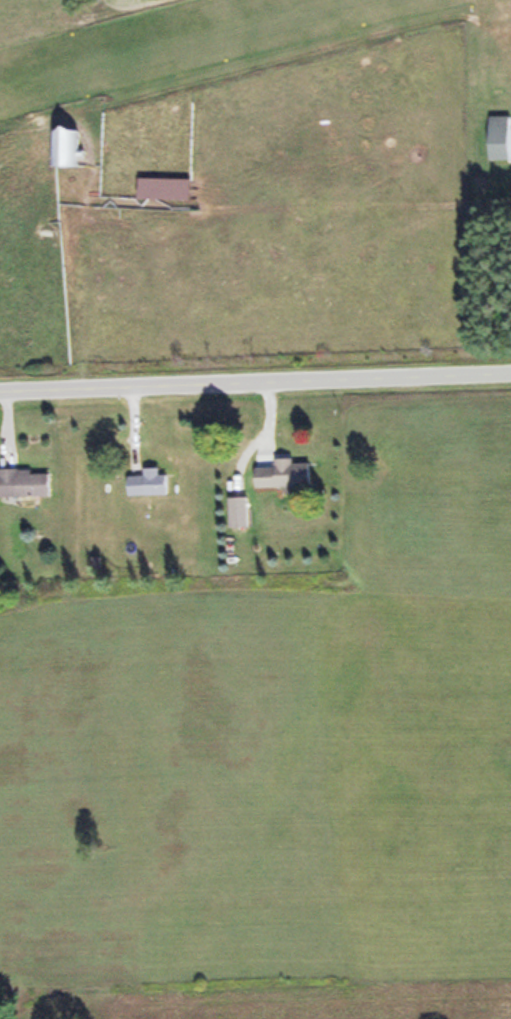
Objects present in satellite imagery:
airport runway: (169, 44)
building: (497, 137)
building: (68, 147)
building: (169, 190)
road: (255, 383)
building: (281, 474)
building: (23, 483)
building: (145, 483)

